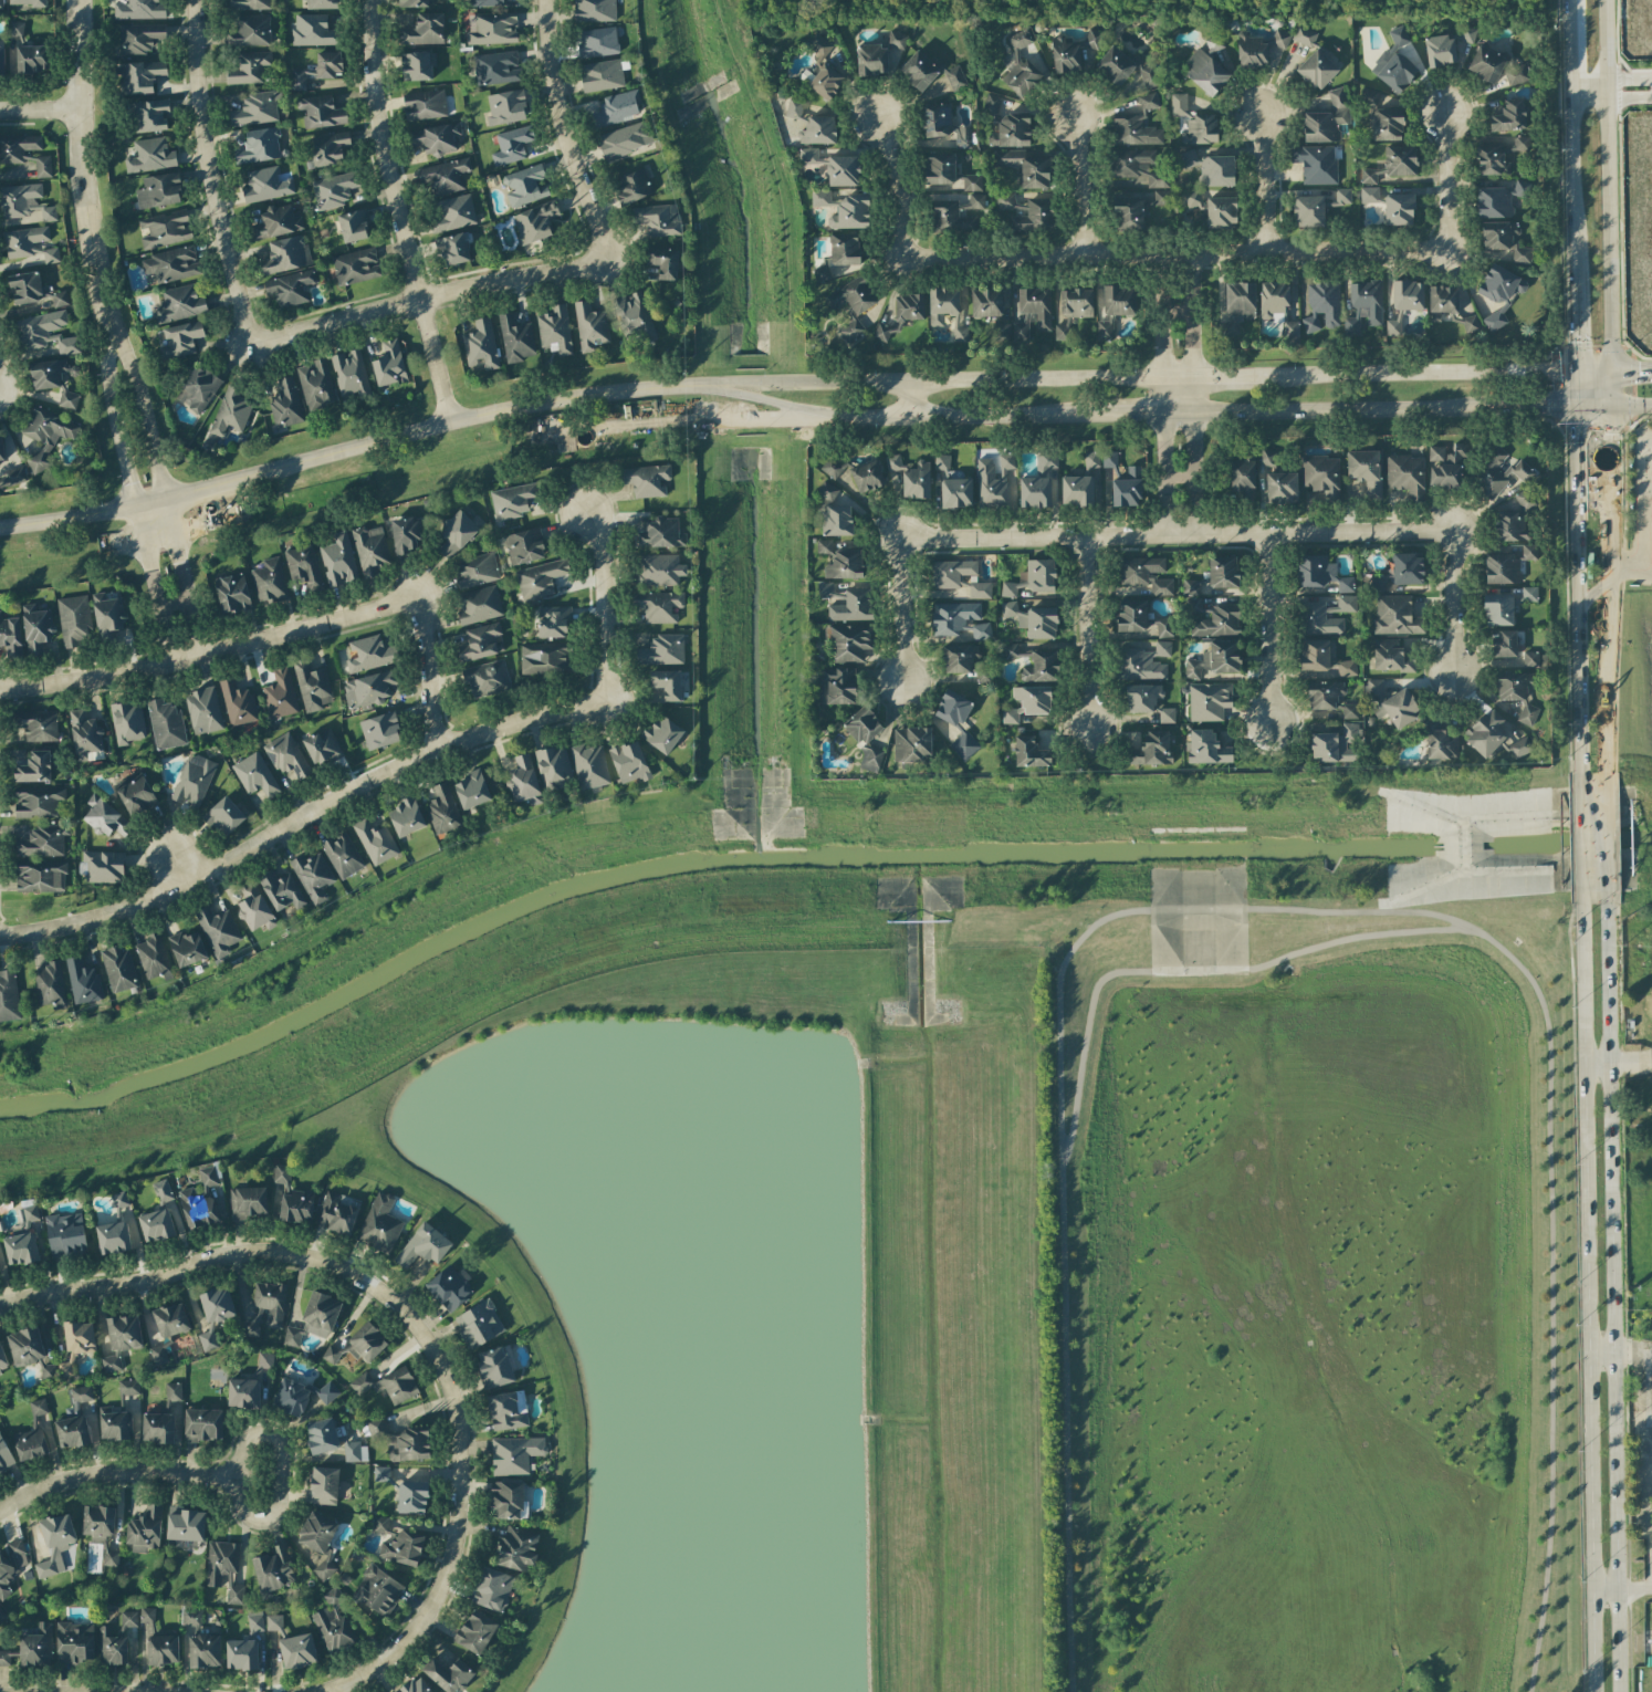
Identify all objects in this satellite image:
building: (27, 2)
building: (483, 3)
building: (1, 4)
building: (248, 4)
building: (322, 4)
building: (139, 10)
building: (594, 10)
building: (15, 29)
building: (493, 29)
building: (425, 30)
building: (313, 31)
building: (1465, 34)
building: (1304, 35)
building: (139, 38)
building: (1092, 39)
building: (1279, 39)
building: (897, 40)
building: (597, 42)
road: (1568, 44)
building: (1251, 50)
building: (1440, 51)
building: (1, 55)
building: (1066, 56)
building: (32, 59)
building: (871, 60)
building: (1394, 63)
building: (327, 65)
building: (417, 66)
building: (1494, 66)
building: (249, 67)
building: (1127, 67)
building: (496, 69)
building: (1020, 69)
building: (1317, 70)
building: (824, 71)
building: (919, 71)
building: (1204, 72)
building: (602, 75)
building: (140, 76)
building: (954, 77)
building: (296, 79)
road: (1618, 87)
road: (1611, 88)
road: (1587, 90)
building: (992, 104)
building: (425, 105)
building: (1180, 106)
building: (1369, 106)
building: (506, 107)
building: (255, 108)
building: (794, 108)
building: (615, 109)
road: (40, 112)
building: (321, 112)
building: (149, 115)
building: (1508, 116)
building: (1327, 119)
building: (943, 125)
building: (1388, 125)
building: (1137, 126)
building: (1201, 129)
road: (564, 130)
building: (818, 130)
building: (1011, 130)
building: (436, 138)
building: (625, 140)
building: (1518, 144)
building: (511, 145)
building: (259, 146)
building: (328, 147)
building: (18, 148)
building: (150, 156)
building: (808, 156)
building: (1189, 158)
building: (1400, 160)
building: (1491, 160)
road: (84, 161)
building: (1316, 164)
building: (43, 166)
building: (1024, 167)
building: (940, 168)
building: (1138, 168)
road: (210, 170)
building: (843, 170)
building: (1217, 171)
building: (445, 176)
building: (1369, 176)
building: (972, 182)
road: (1085, 182)
road: (1264, 182)
road: (1446, 182)
road: (1570, 182)
building: (265, 185)
road: (895, 185)
road: (1608, 185)
building: (524, 186)
building: (631, 188)
building: (334, 189)
building: (158, 190)
building: (1369, 195)
building: (1342, 196)
building: (820, 198)
building: (1499, 199)
building: (1004, 200)
building: (976, 201)
building: (25, 205)
building: (1213, 209)
building: (1399, 209)
building: (1136, 210)
road: (397, 211)
building: (1308, 211)
building: (452, 213)
building: (850, 213)
building: (950, 217)
building: (1034, 217)
building: (658, 219)
building: (276, 222)
building: (534, 222)
building: (353, 226)
building: (165, 230)
building: (1504, 240)
building: (31, 244)
building: (452, 249)
building: (845, 249)
building: (285, 255)
road: (1173, 257)
building: (663, 260)
building: (171, 264)
building: (356, 267)
building: (824, 270)
building: (1499, 284)
building: (289, 288)
building: (33, 292)
road: (425, 297)
building: (1118, 301)
building: (1404, 302)
building: (1442, 302)
building: (986, 303)
building: (179, 304)
building: (1236, 305)
building: (1322, 305)
building: (851, 306)
building: (1276, 306)
building: (1363, 306)
building: (1073, 310)
building: (945, 311)
building: (1032, 312)
building: (901, 314)
road: (1159, 317)
building: (634, 318)
building: (1494, 321)
building: (1470, 324)
building: (590, 326)
building: (554, 330)
building: (1105, 330)
road: (1192, 334)
building: (515, 338)
traffic signals: (1572, 338)
building: (180, 340)
road: (1572, 341)
building: (481, 345)
building: (389, 364)
road: (1612, 369)
traffic signals: (1641, 369)
road: (1421, 373)
building: (349, 374)
road: (1230, 377)
road: (1175, 378)
building: (54, 379)
road: (1012, 379)
road: (775, 384)
building: (315, 385)
building: (198, 389)
road: (911, 399)
building: (285, 404)
road: (1559, 406)
road: (1632, 406)
road: (797, 407)
traffic signals: (1549, 407)
road: (140, 408)
road: (1349, 409)
building: (230, 411)
road: (1131, 412)
road: (1177, 412)
road: (114, 415)
road: (1006, 415)
traffic signals: (1612, 434)
road: (1649, 436)
building: (45, 437)
building: (209, 441)
road: (341, 450)
building: (0, 451)
road: (1161, 458)
building: (1267, 458)
building: (1109, 459)
building: (1046, 460)
building: (1091, 460)
building: (941, 462)
building: (833, 466)
building: (1445, 466)
road: (1611, 468)
building: (1365, 470)
building: (1501, 472)
building: (1241, 473)
building: (1321, 474)
building: (1405, 474)
road: (1192, 476)
building: (867, 477)
building: (911, 477)
building: (12, 478)
building: (645, 480)
building: (993, 481)
road: (1646, 484)
building: (1280, 488)
building: (1127, 489)
building: (1077, 491)
building: (1035, 492)
building: (956, 493)
building: (512, 501)
road: (1641, 501)
building: (1526, 503)
building: (837, 521)
building: (1512, 526)
building: (457, 533)
building: (660, 534)
building: (406, 535)
road: (1175, 539)
building: (524, 546)
building: (824, 547)
building: (370, 551)
building: (1528, 551)
building: (338, 561)
building: (845, 565)
building: (304, 566)
road: (1633, 567)
building: (1502, 568)
building: (1407, 570)
building: (475, 571)
building: (657, 571)
building: (1139, 571)
building: (1316, 571)
building: (1223, 572)
building: (951, 573)
building: (540, 578)
building: (1032, 578)
road: (185, 581)
building: (269, 582)
building: (1345, 585)
building: (1161, 587)
building: (1191, 587)
road: (150, 588)
building: (825, 589)
building: (980, 591)
road: (1575, 591)
building: (232, 593)
building: (1528, 594)
building: (1193, 604)
building: (479, 605)
building: (1343, 605)
building: (659, 606)
building: (853, 606)
road: (1452, 607)
building: (1497, 609)
road: (596, 610)
road: (902, 615)
building: (107, 616)
building: (1131, 616)
building: (1395, 616)
building: (960, 620)
building: (1033, 620)
building: (1319, 620)
building: (74, 622)
building: (553, 622)
building: (1217, 623)
building: (1163, 627)
building: (35, 629)
road: (1087, 634)
road: (1271, 634)
building: (10, 636)
building: (481, 643)
building: (850, 643)
building: (1503, 644)
building: (662, 650)
building: (1010, 651)
building: (369, 654)
building: (1314, 655)
building: (1390, 656)
building: (959, 658)
building: (544, 659)
building: (1530, 659)
building: (1214, 660)
road: (209, 661)
building: (1144, 662)
building: (1042, 667)
building: (1346, 669)
road: (1604, 672)
road: (421, 677)
building: (487, 679)
building: (667, 683)
building: (312, 686)
building: (837, 686)
building: (368, 689)
building: (1517, 692)
building: (280, 694)
building: (1142, 698)
building: (1329, 698)
building: (1209, 701)
building: (237, 702)
building: (1028, 703)
building: (1390, 703)
building: (203, 711)
building: (1167, 716)
building: (127, 722)
building: (165, 724)
building: (38, 725)
building: (861, 725)
building: (380, 731)
building: (1487, 732)
building: (662, 734)
building: (85, 737)
building: (1441, 741)
building: (1336, 743)
building: (912, 744)
building: (322, 746)
building: (1206, 748)
building: (1519, 748)
building: (1151, 750)
building: (1029, 753)
building: (285, 756)
building: (870, 759)
building: (629, 762)
building: (553, 766)
building: (589, 766)
building: (34, 767)
building: (255, 775)
building: (523, 780)
building: (192, 781)
building: (471, 790)
building: (135, 794)
building: (36, 802)
building: (442, 810)
road: (294, 815)
building: (223, 816)
building: (105, 817)
building: (406, 817)
building: (42, 842)
building: (375, 842)
river: (799, 842)
road: (1591, 842)
building: (342, 855)
building: (103, 867)
road: (164, 867)
building: (312, 876)
building: (40, 878)
building: (281, 890)
building: (254, 908)
road: (1289, 910)
building: (217, 930)
building: (187, 949)
building: (153, 958)
building: (117, 968)
building: (82, 981)
building: (49, 985)
building: (8, 995)
road: (1631, 1062)
road: (1597, 1064)
building: (282, 1176)
building: (161, 1191)
building: (119, 1200)
building: (199, 1201)
building: (248, 1202)
building: (296, 1207)
building: (29, 1211)
building: (337, 1213)
building: (379, 1224)
building: (156, 1225)
building: (65, 1234)
building: (113, 1237)
building: (424, 1246)
building: (21, 1249)
road: (261, 1252)
building: (0, 1270)
building: (449, 1287)
park: (1313, 1295)
road: (1587, 1298)
road: (1612, 1298)
building: (271, 1302)
building: (215, 1314)
building: (321, 1314)
building: (170, 1320)
building: (252, 1324)
building: (479, 1324)
building: (79, 1337)
building: (292, 1337)
building: (121, 1340)
building: (366, 1343)
building: (25, 1346)
road: (1600, 1352)
building: (331, 1354)
building: (158, 1355)
building: (2, 1359)
building: (263, 1362)
building: (494, 1367)
building: (46, 1369)
building: (0, 1374)
building: (387, 1385)
building: (172, 1392)
building: (326, 1392)
building: (243, 1393)
road: (1650, 1393)
building: (82, 1395)
building: (291, 1398)
building: (38, 1407)
building: (508, 1410)
building: (118, 1413)
building: (202, 1424)
building: (158, 1429)
building: (72, 1432)
building: (322, 1435)
building: (401, 1441)
building: (30, 1444)
building: (351, 1449)
building: (514, 1454)
building: (4, 1456)
building: (381, 1473)
road: (279, 1474)
road: (114, 1475)
building: (324, 1485)
building: (412, 1497)
building: (508, 1500)
building: (185, 1524)
building: (100, 1529)
building: (144, 1531)
building: (318, 1540)
building: (54, 1543)
building: (398, 1543)
building: (517, 1548)
building: (11, 1565)
building: (274, 1568)
building: (223, 1570)
road: (443, 1578)
road: (1634, 1588)
building: (492, 1589)
road: (1604, 1589)
building: (378, 1590)
building: (147, 1617)
building: (191, 1618)
building: (128, 1620)
building: (254, 1621)
building: (274, 1622)
building: (333, 1623)
building: (475, 1632)
road: (1640, 1638)
building: (74, 1643)
building: (36, 1647)
building: (112, 1648)
building: (161, 1650)
building: (205, 1651)
building: (297, 1651)
building: (241, 1654)
building: (4, 1659)
building: (448, 1674)
building: (415, 1686)

